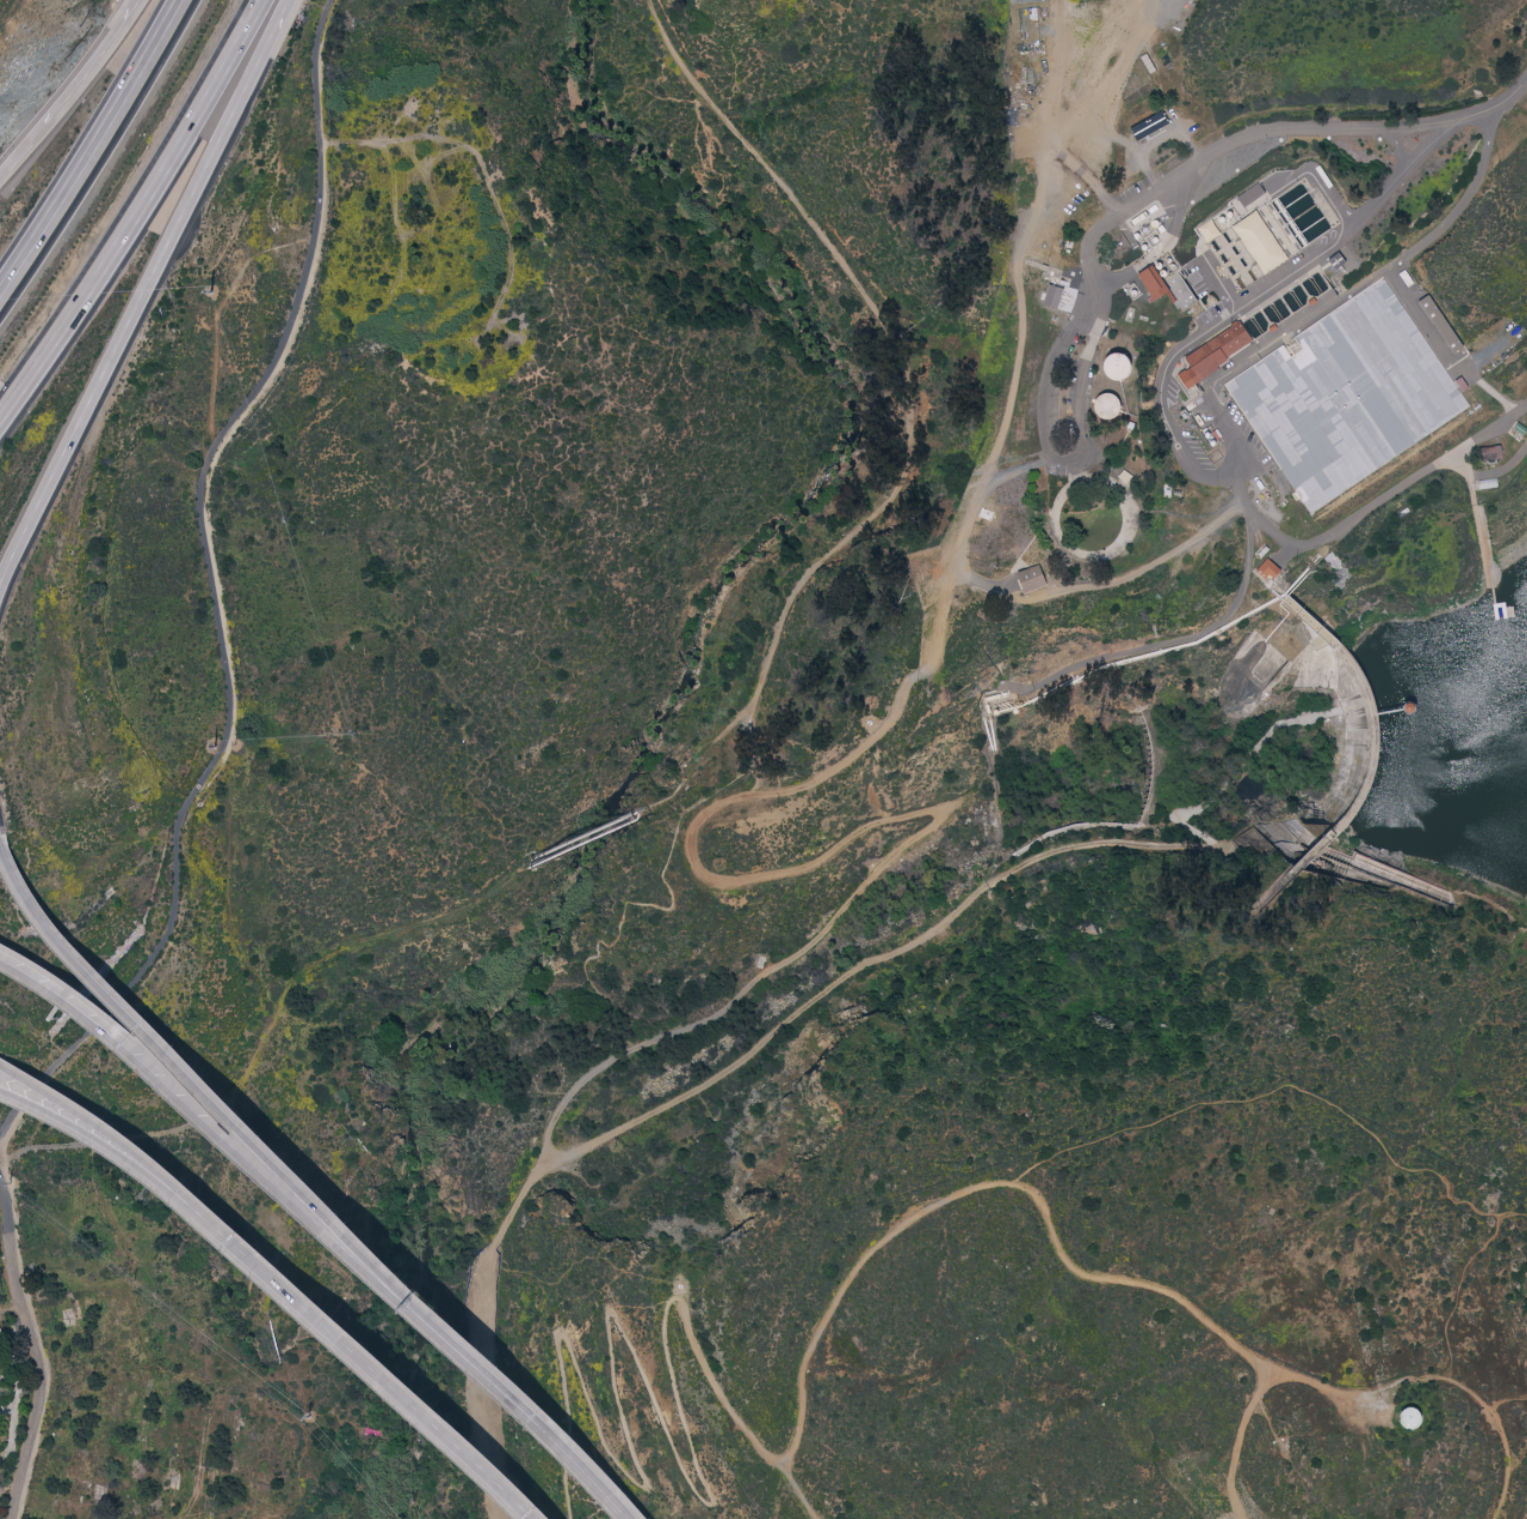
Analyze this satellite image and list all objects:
road: (281, 13)
road: (98, 65)
road: (1509, 94)
building: (1147, 127)
road: (92, 146)
road: (1395, 146)
road: (24, 154)
road: (138, 215)
building: (1208, 231)
building: (1257, 242)
road: (1218, 282)
building: (1182, 293)
road: (140, 308)
building: (1437, 324)
building: (1211, 354)
building: (1107, 367)
road: (1049, 391)
building: (1348, 396)
road: (906, 400)
building: (1100, 407)
road: (1213, 476)
road: (1388, 491)
building: (1267, 570)
building: (1029, 579)
road: (216, 583)
road: (1106, 583)
road: (1208, 627)
power tower: (214, 748)
dam: (1365, 755)
road: (123, 1005)
road: (729, 1009)
river: (715, 1043)
road: (134, 1048)
road: (1282, 1088)
road: (49, 1098)
road: (49, 1108)
road: (995, 1185)
road: (324, 1318)
road: (452, 1333)
road: (625, 1337)
road: (45, 1353)
road: (1476, 1399)
storage tank: (1410, 1418)
road: (1239, 1443)

